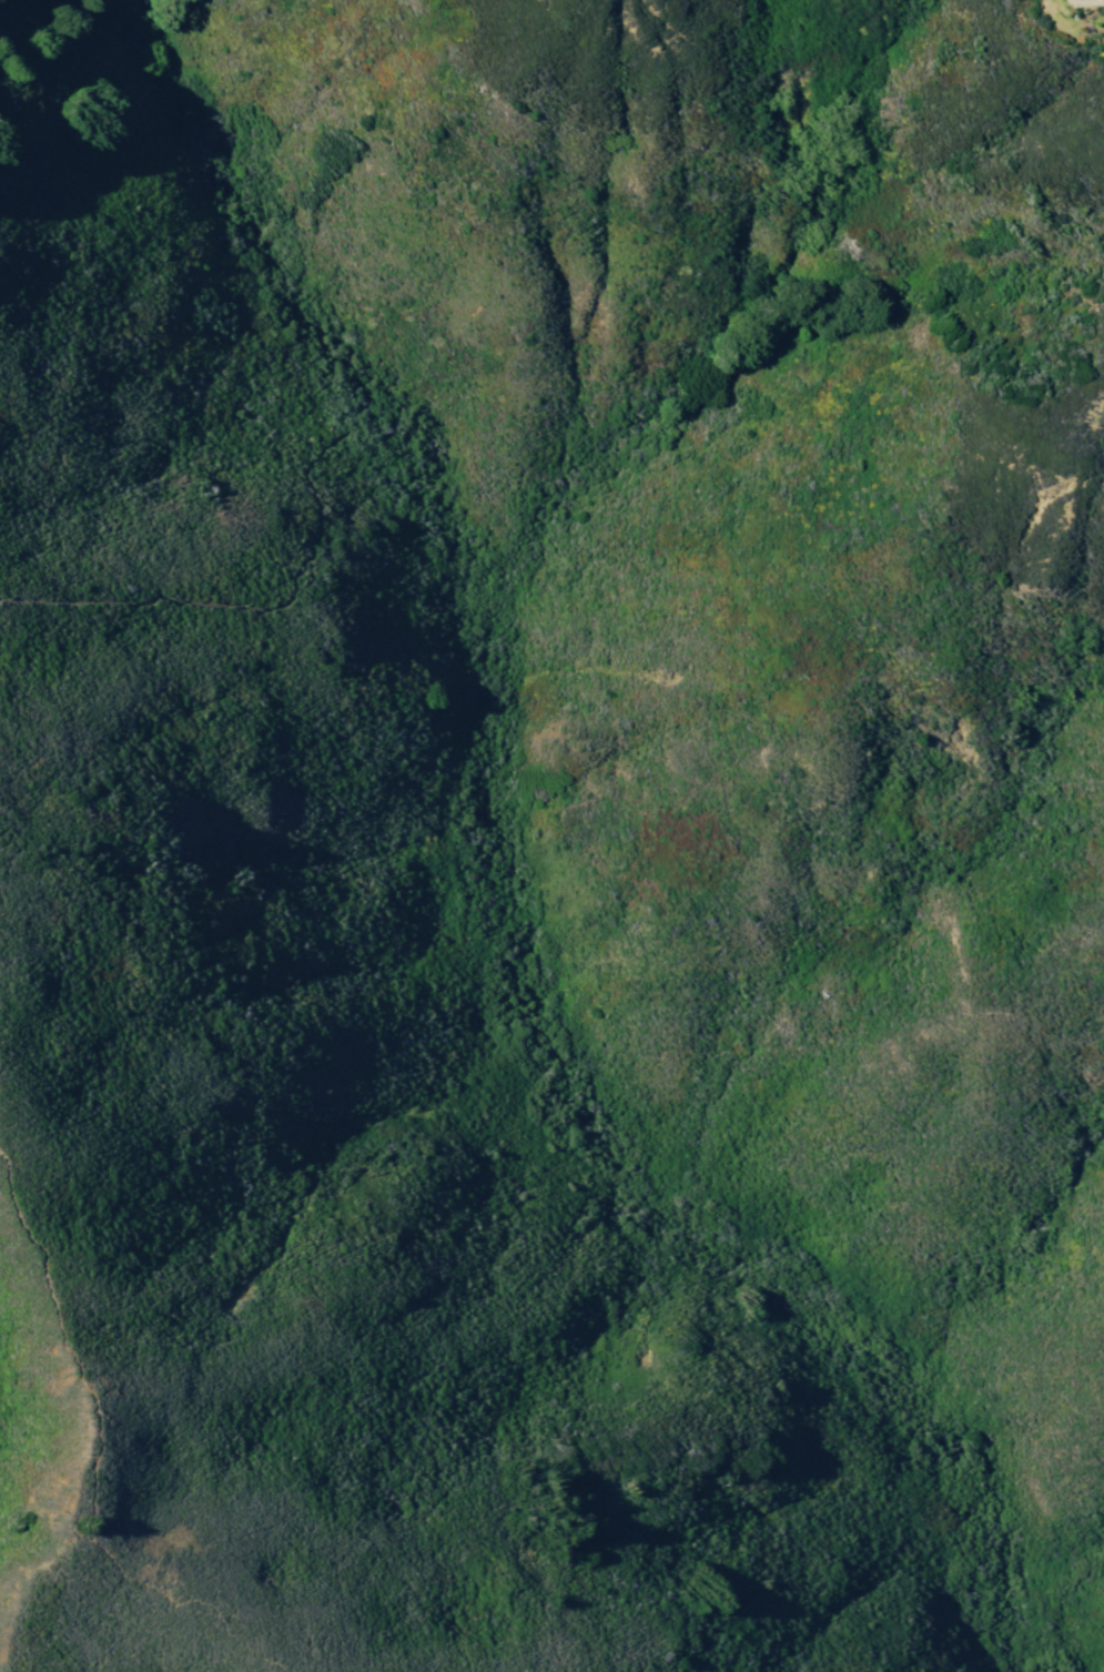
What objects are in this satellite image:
building: (1086, 2)
road: (267, 611)
road: (105, 1459)

